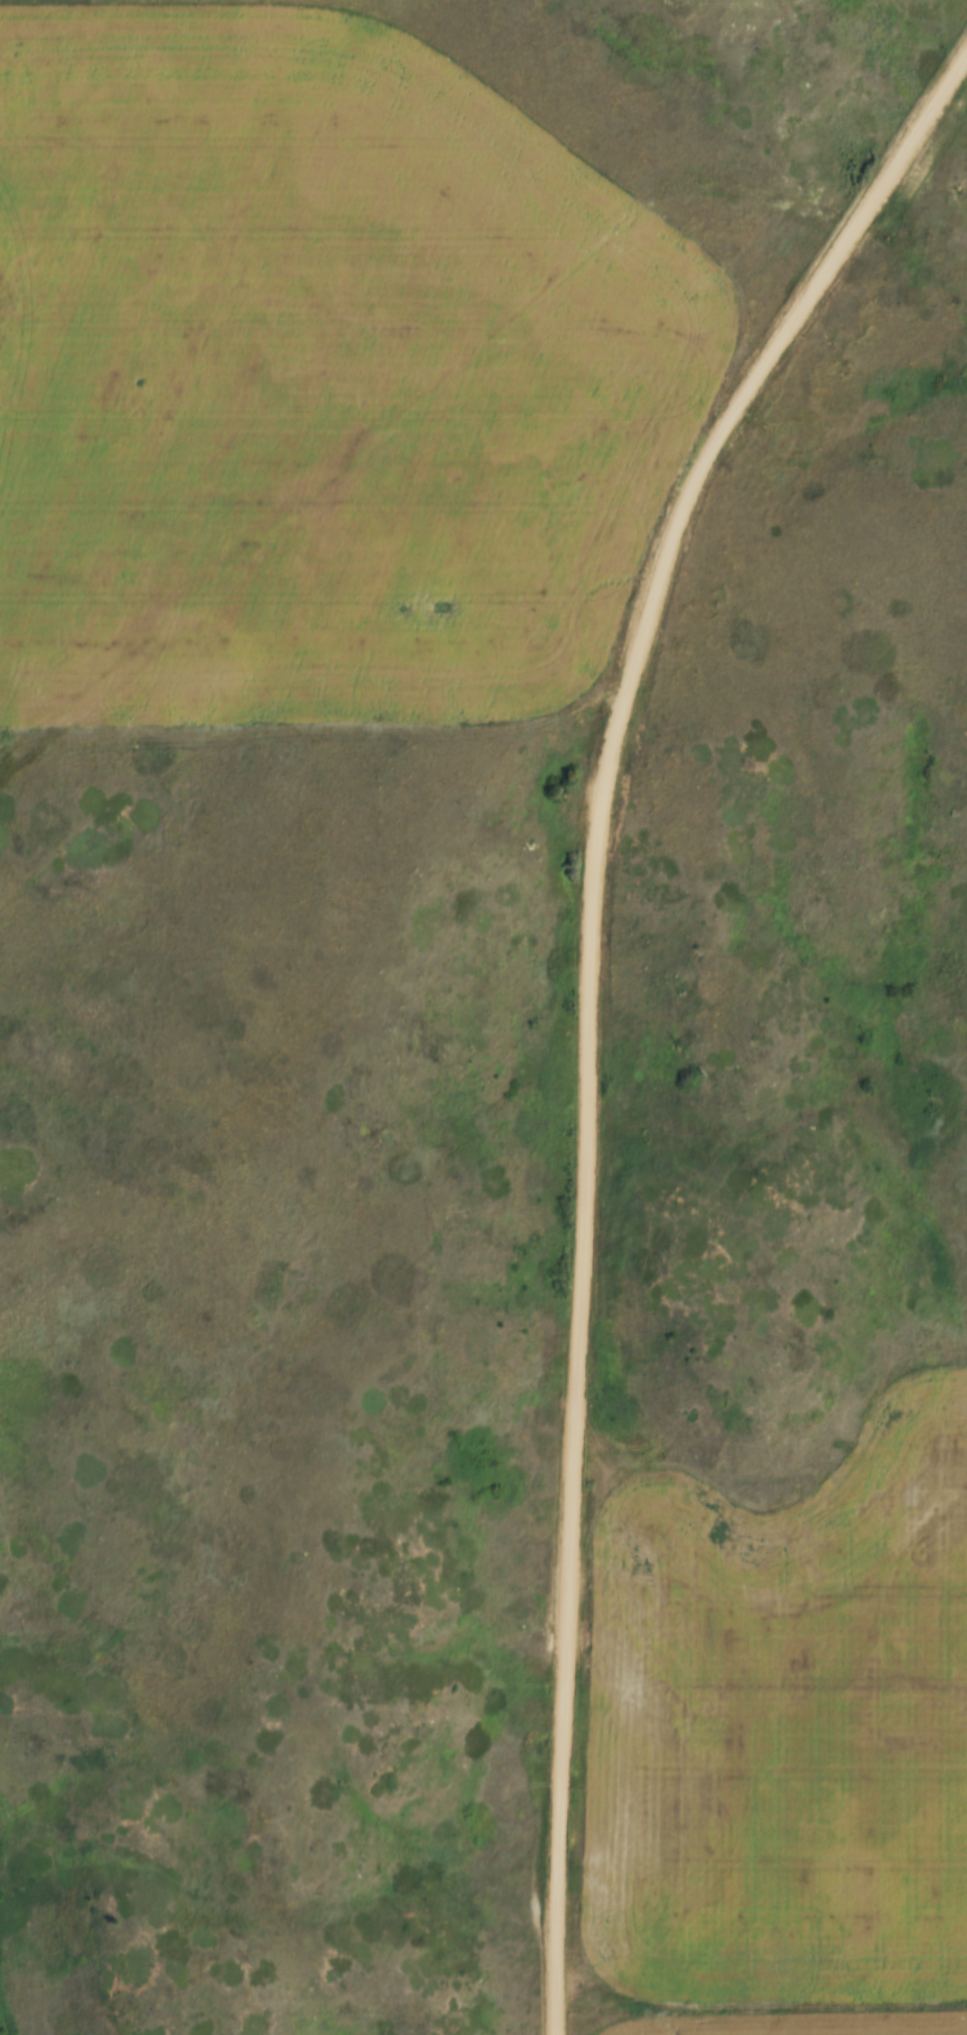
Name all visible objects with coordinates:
road: (587, 1001)

